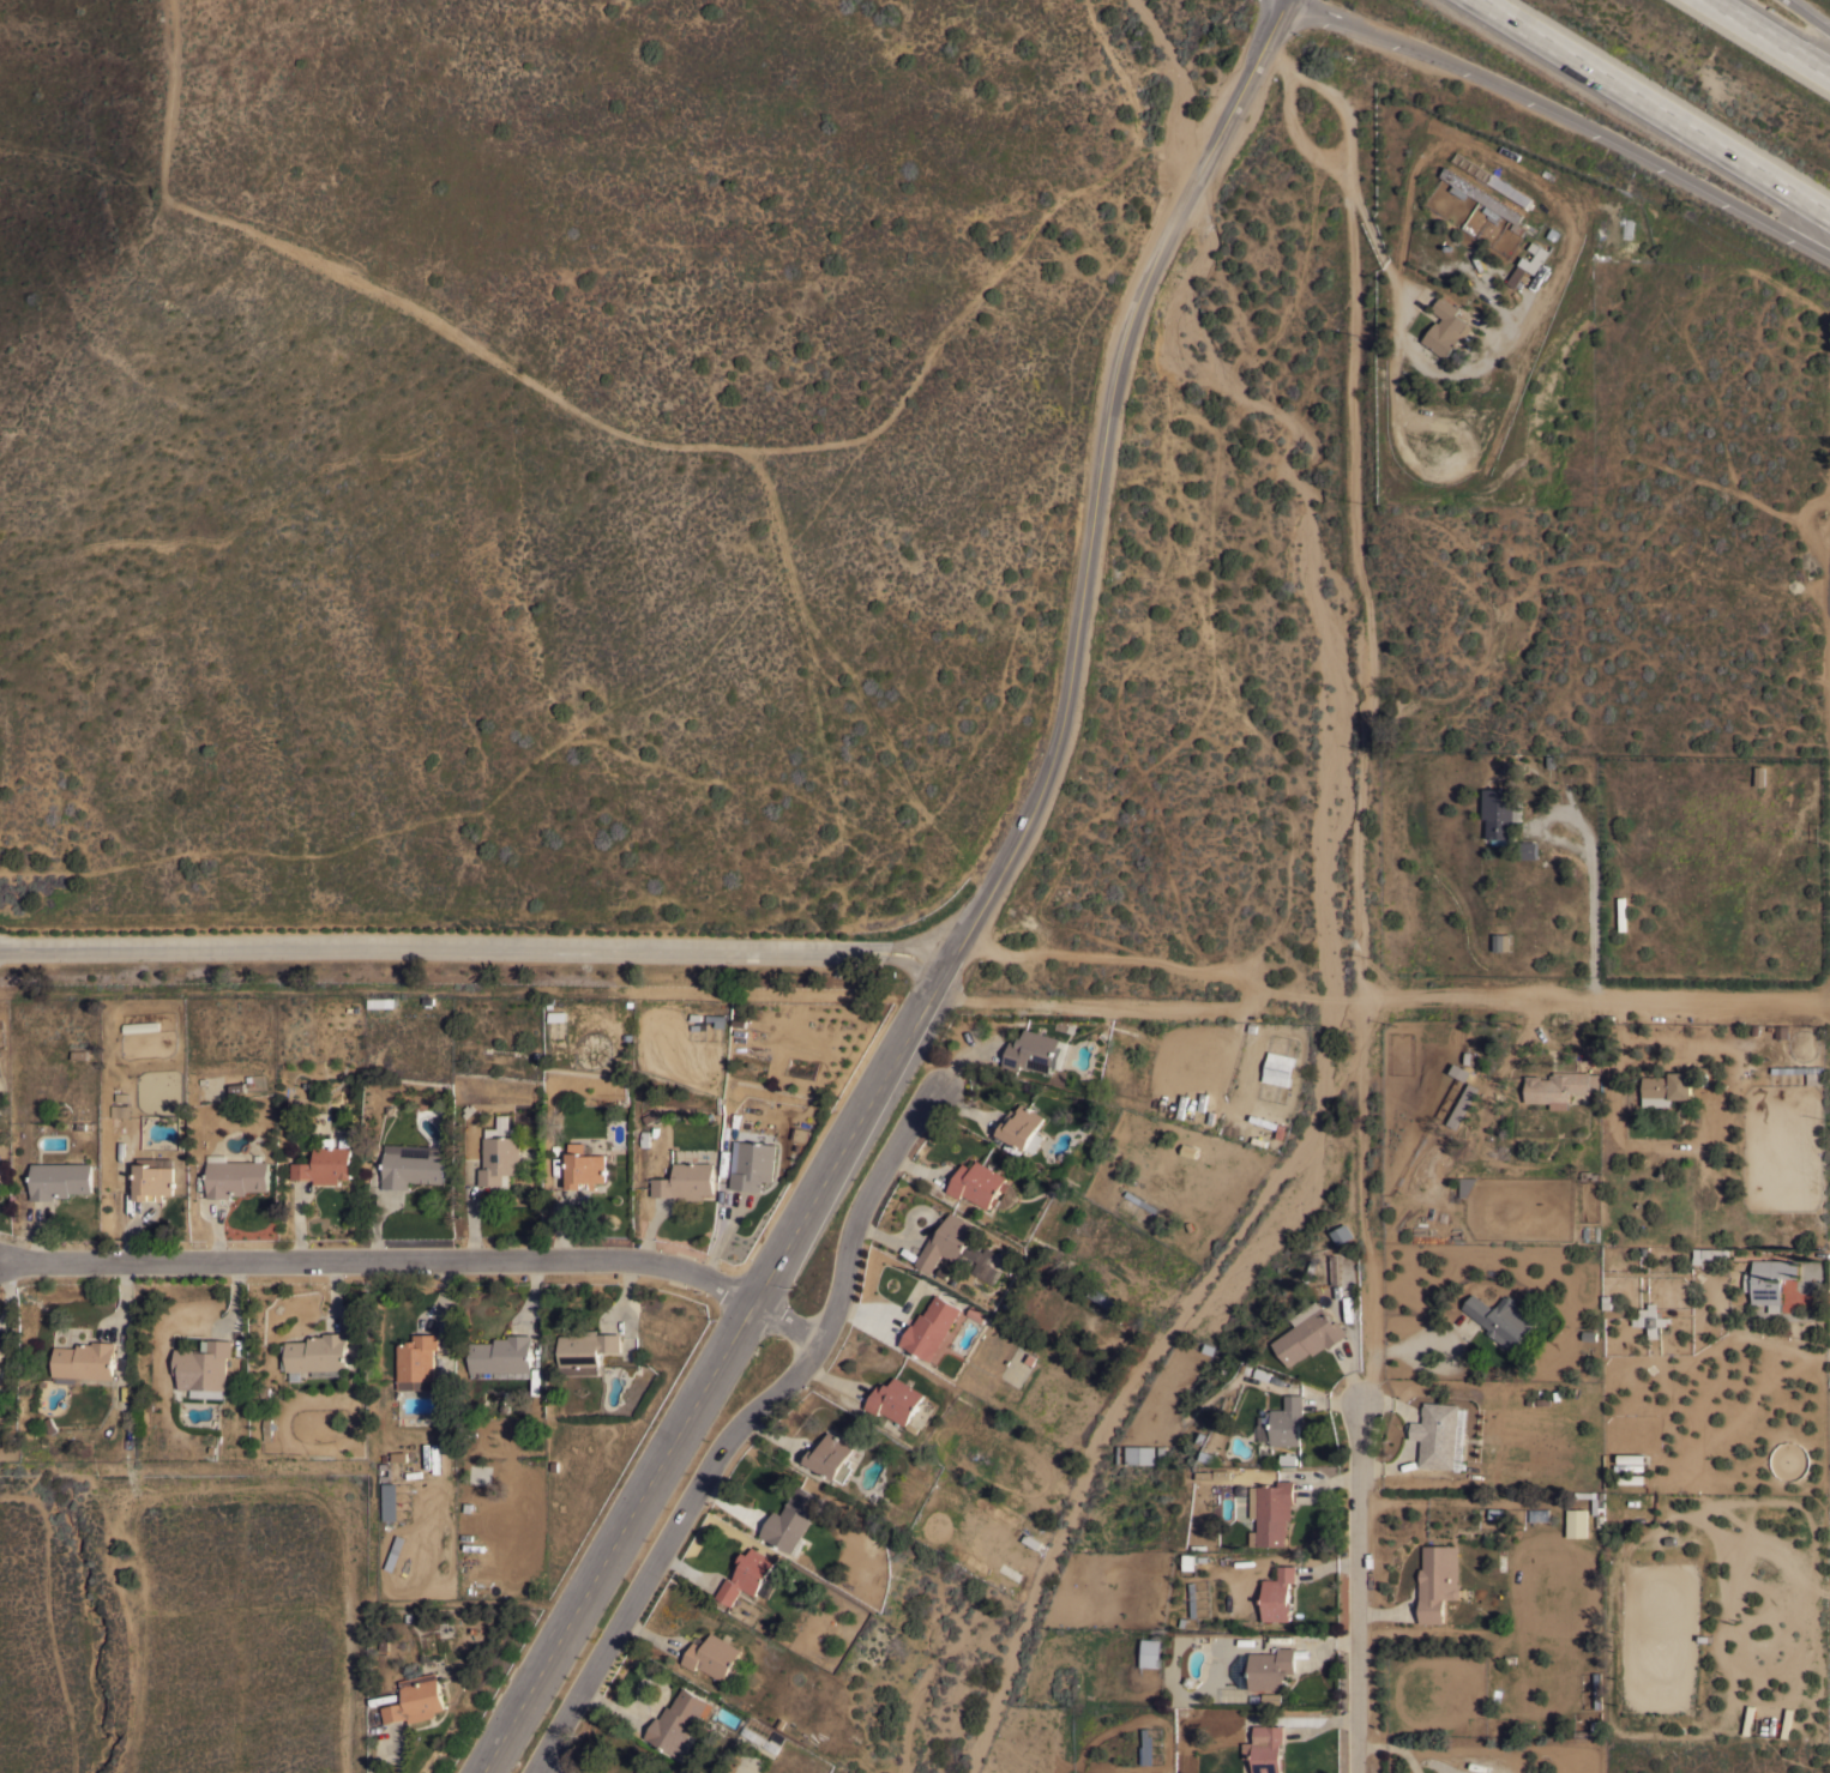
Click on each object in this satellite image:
road: (1814, 11)
road: (1775, 34)
road: (1665, 103)
road: (1578, 110)
road: (1356, 152)
building: (1506, 189)
building: (1481, 198)
building: (1536, 257)
building: (1445, 327)
road: (1366, 597)
building: (1759, 774)
building: (1500, 813)
building: (1528, 849)
road: (973, 918)
road: (1593, 919)
building: (1501, 941)
road: (472, 949)
road: (1109, 955)
road: (1150, 995)
building: (380, 1001)
road: (1600, 1002)
building: (716, 1019)
building: (139, 1027)
building: (1781, 1031)
building: (1036, 1051)
building: (1278, 1068)
building: (1459, 1071)
building: (1814, 1078)
building: (1559, 1086)
building: (1666, 1087)
building: (1463, 1104)
building: (120, 1109)
building: (1262, 1120)
building: (1022, 1127)
building: (500, 1153)
building: (325, 1164)
building: (413, 1164)
building: (752, 1164)
building: (583, 1165)
building: (1, 1176)
building: (235, 1177)
building: (60, 1178)
building: (153, 1181)
building: (686, 1181)
building: (977, 1183)
building: (1465, 1183)
building: (1140, 1200)
building: (1343, 1234)
building: (945, 1241)
building: (1708, 1253)
road: (381, 1261)
building: (987, 1264)
building: (1342, 1268)
building: (1769, 1280)
building: (1100, 1297)
building: (977, 1313)
building: (1500, 1319)
building: (1651, 1319)
road: (789, 1323)
building: (931, 1327)
building: (1308, 1333)
building: (584, 1350)
building: (317, 1352)
building: (2, 1355)
building: (500, 1356)
building: (85, 1359)
building: (417, 1362)
building: (439, 1363)
building: (204, 1368)
road: (1364, 1385)
building: (492, 1394)
building: (514, 1395)
building: (896, 1400)
building: (1287, 1421)
building: (267, 1428)
road: (740, 1429)
building: (1435, 1434)
building: (1457, 1443)
building: (1139, 1454)
building: (831, 1457)
building: (1631, 1458)
building: (385, 1471)
building: (1631, 1478)
building: (1633, 1495)
building: (390, 1500)
building: (1271, 1512)
building: (790, 1519)
building: (1576, 1521)
building: (395, 1551)
building: (1190, 1561)
building: (475, 1564)
building: (746, 1574)
building: (1437, 1580)
building: (1278, 1593)
building: (1150, 1652)
building: (712, 1656)
building: (1270, 1668)
building: (1597, 1689)
building: (1271, 1697)
building: (416, 1699)
building: (676, 1720)
building: (1482, 1726)
building: (759, 1737)
building: (1146, 1747)
building: (1268, 1749)
road: (395, 1754)
building: (631, 1771)
building: (638, 1772)

